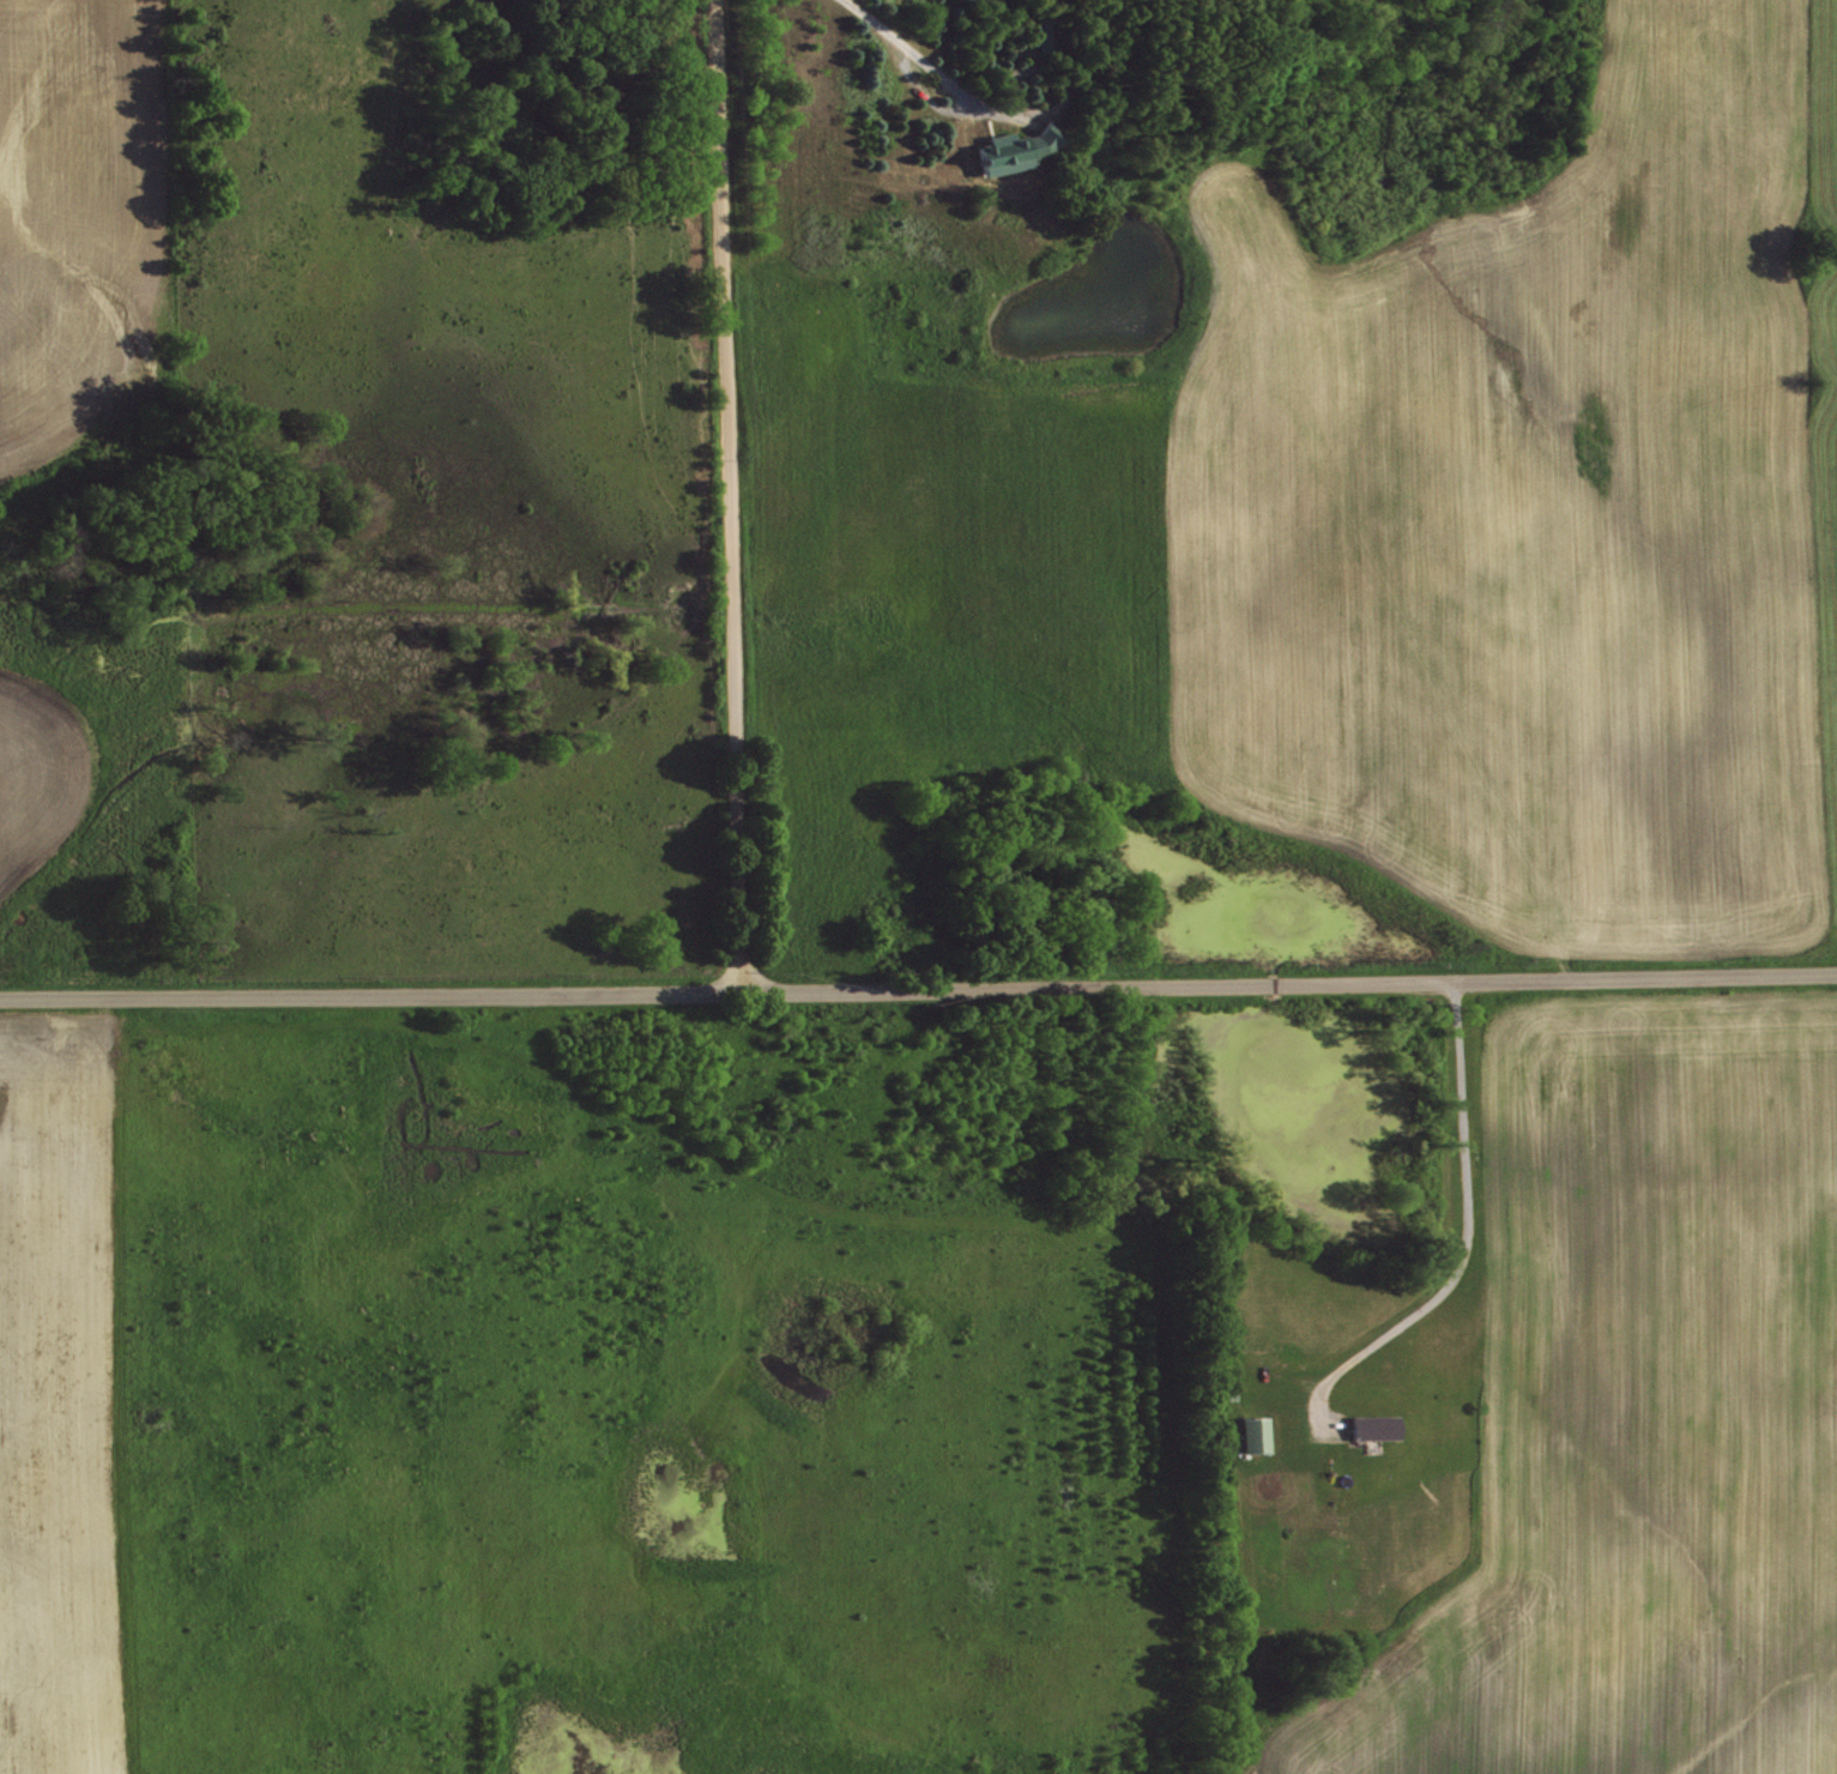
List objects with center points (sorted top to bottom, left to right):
building: (1046, 34)
building: (1015, 149)
crop: (79, 212)
road: (720, 494)
crop: (40, 767)
road: (918, 985)
building: (1373, 1425)
building: (1255, 1432)

